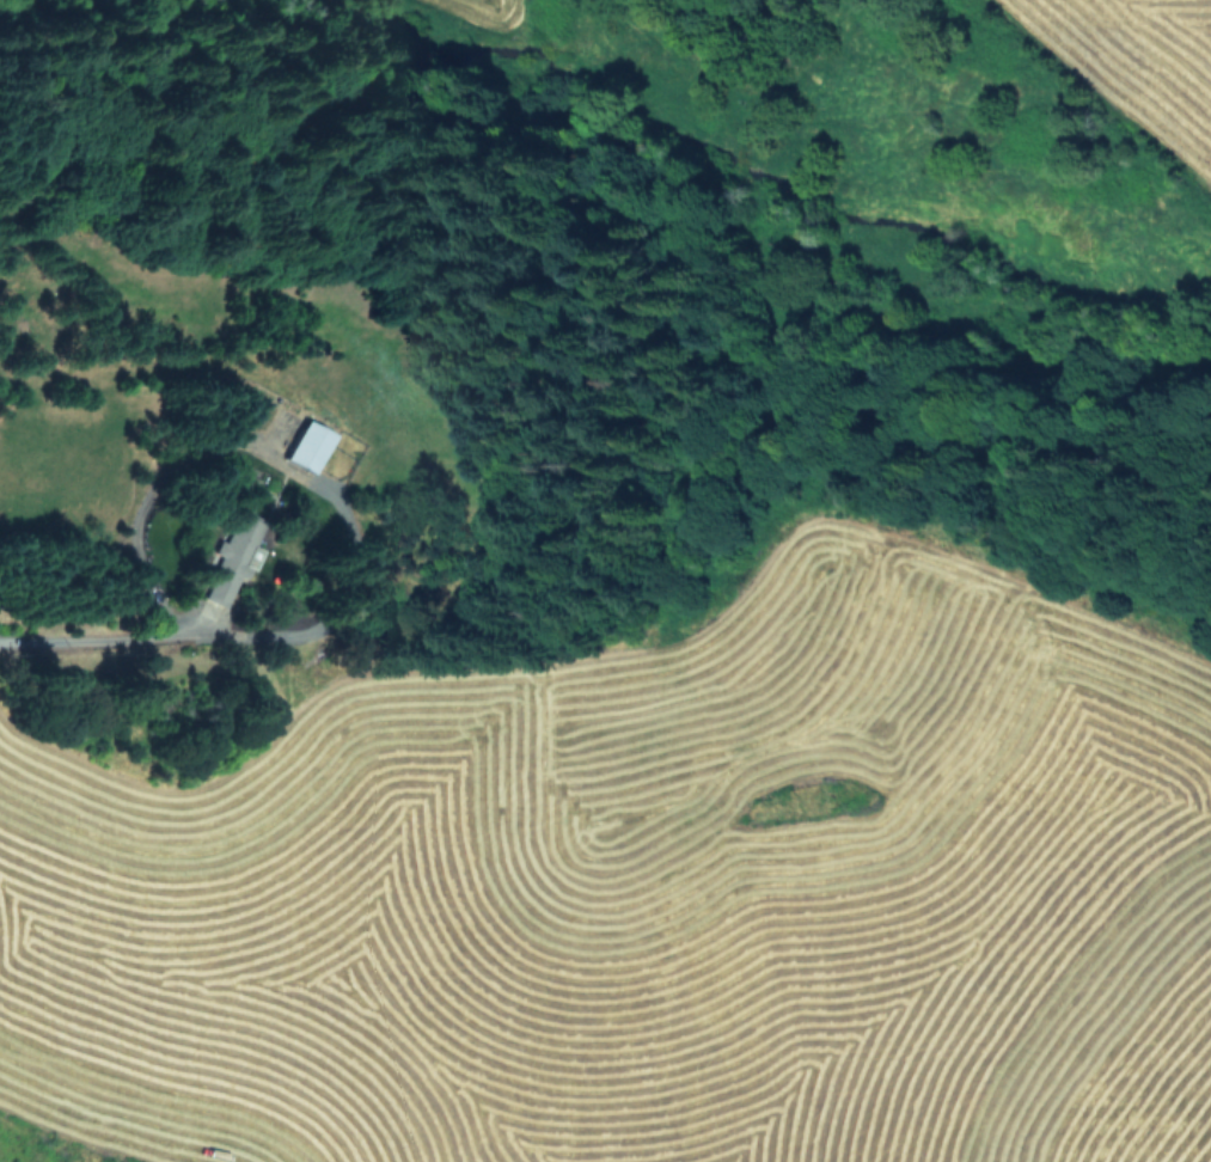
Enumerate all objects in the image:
river: (891, 226)
building: (308, 446)
building: (233, 561)
road: (160, 635)
crop: (524, 986)

